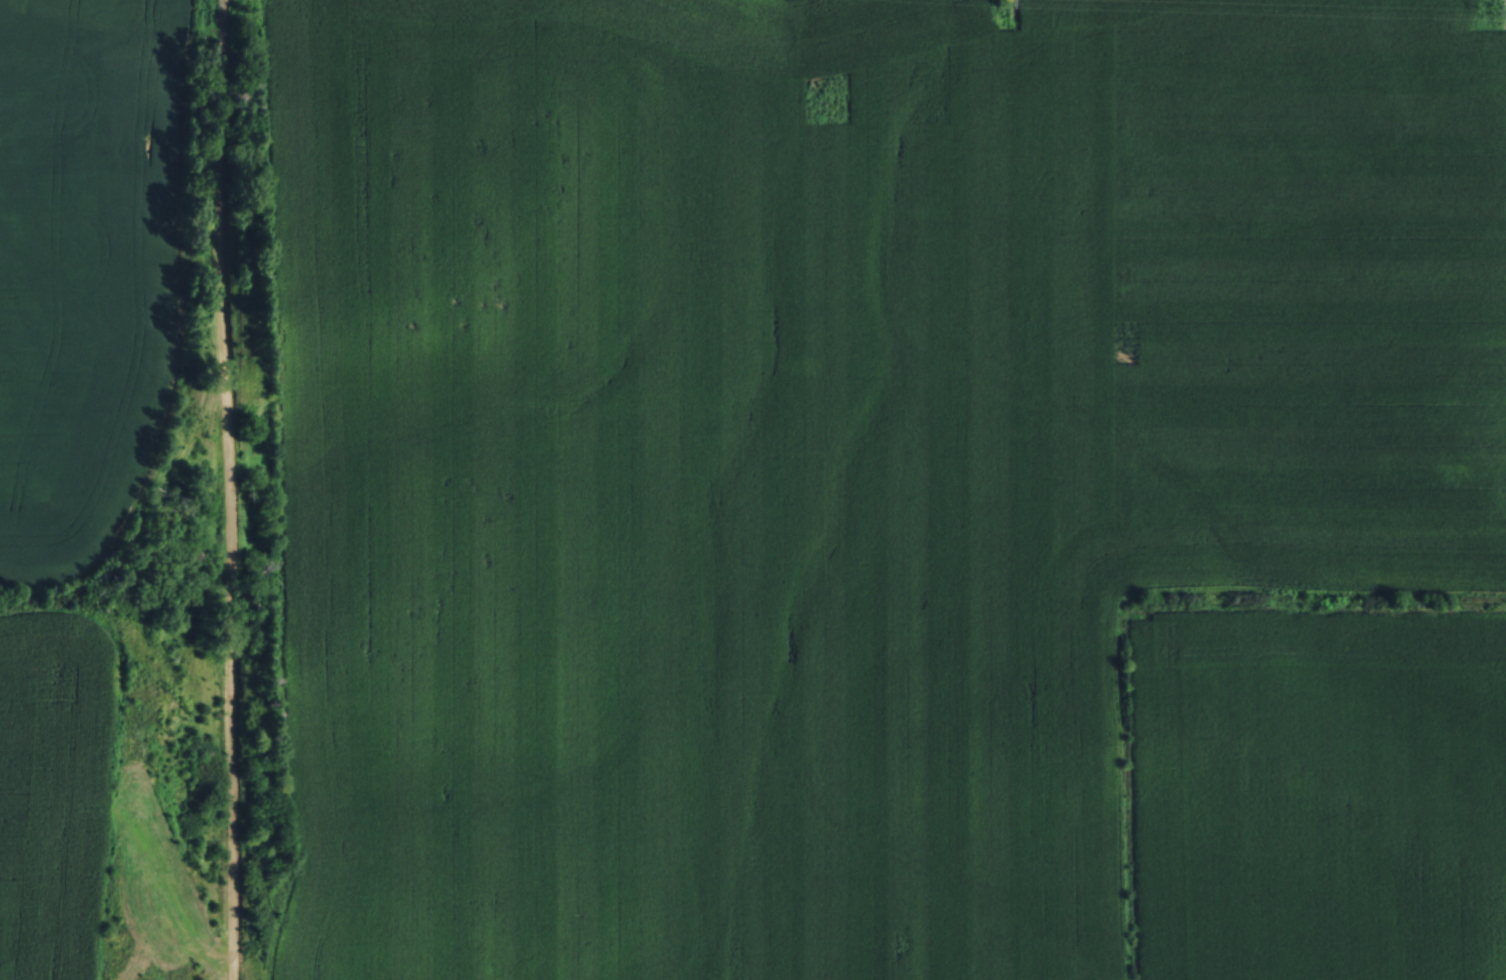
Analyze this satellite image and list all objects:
power tower: (1494, 7)
road: (230, 489)

